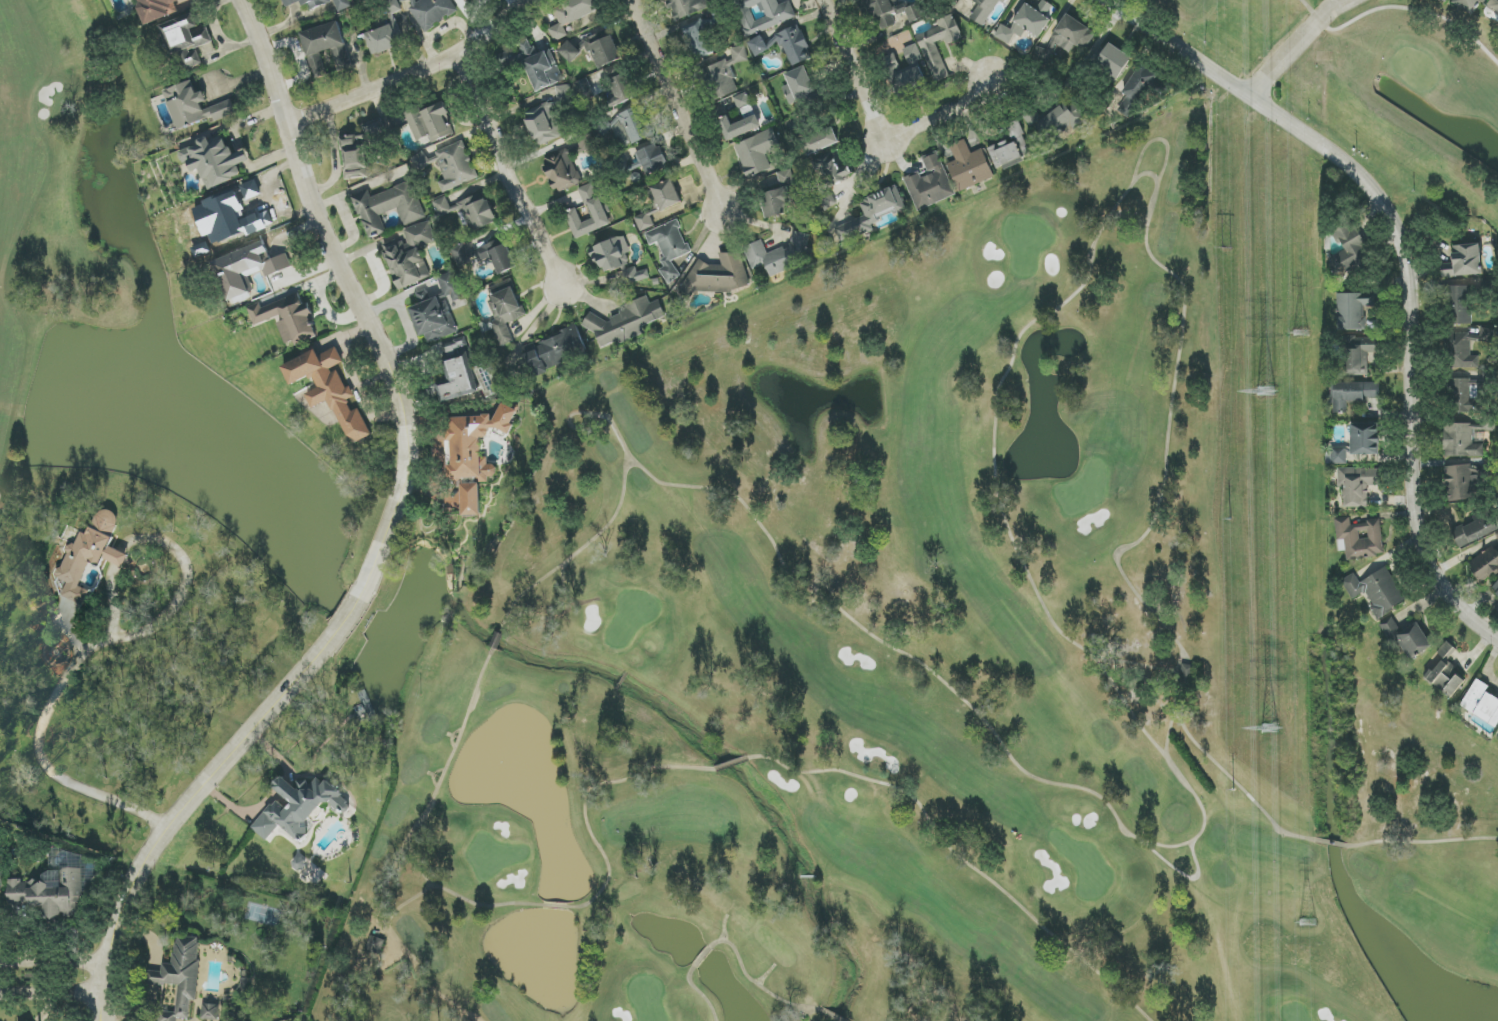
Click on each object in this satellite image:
building: (465, 0)
building: (1445, 1)
building: (320, 3)
building: (1467, 5)
building: (1492, 5)
building: (687, 7)
building: (158, 9)
building: (984, 10)
building: (431, 12)
building: (893, 12)
building: (764, 14)
building: (571, 15)
building: (1028, 22)
road: (221, 35)
building: (1067, 38)
building: (186, 39)
building: (384, 39)
building: (697, 40)
building: (759, 46)
building: (792, 46)
road: (1297, 47)
building: (325, 48)
building: (602, 49)
building: (570, 52)
building: (904, 58)
building: (934, 60)
building: (1113, 61)
building: (532, 64)
building: (725, 74)
road: (413, 76)
building: (909, 81)
building: (799, 85)
building: (585, 89)
building: (621, 90)
building: (1137, 90)
park: (1382, 93)
building: (564, 94)
road: (673, 104)
building: (744, 105)
building: (194, 106)
building: (1058, 119)
building: (429, 122)
building: (544, 124)
building: (738, 127)
building: (631, 128)
road: (880, 130)
road: (1156, 140)
building: (821, 141)
building: (1011, 148)
building: (757, 152)
road: (336, 158)
building: (652, 159)
building: (215, 162)
building: (455, 166)
building: (969, 166)
building: (832, 169)
building: (563, 171)
road: (506, 172)
building: (930, 183)
building: (667, 195)
building: (775, 203)
building: (388, 207)
building: (597, 210)
building: (469, 211)
building: (872, 213)
building: (646, 219)
building: (669, 247)
park: (61, 248)
power tower: (1228, 248)
building: (1350, 250)
building: (612, 254)
building: (409, 255)
building: (781, 255)
building: (486, 256)
building: (1464, 261)
road: (1406, 263)
building: (247, 268)
building: (635, 275)
building: (718, 276)
building: (450, 286)
road: (358, 297)
building: (1460, 305)
building: (505, 309)
building: (1355, 309)
building: (287, 319)
building: (433, 320)
building: (625, 322)
building: (1487, 335)
power tower: (1299, 338)
building: (456, 345)
building: (555, 351)
building: (1463, 351)
building: (1358, 355)
building: (458, 378)
building: (330, 389)
power tower: (1265, 393)
building: (1467, 393)
building: (1354, 394)
building: (1463, 439)
building: (476, 443)
building: (1357, 444)
building: (1466, 481)
building: (1358, 485)
building: (471, 499)
road: (619, 507)
power tower: (1230, 519)
building: (1470, 527)
building: (1497, 535)
building: (1359, 538)
road: (1015, 546)
building: (89, 555)
building: (1485, 564)
building: (1376, 591)
building: (1495, 591)
road: (350, 613)
road: (558, 617)
building: (1407, 638)
road: (109, 642)
building: (1447, 672)
park: (901, 675)
building: (1482, 703)
power tower: (1269, 728)
road: (1237, 784)
power tower: (1234, 790)
road: (193, 795)
building: (299, 807)
road: (1422, 842)
road: (961, 858)
building: (49, 896)
road: (405, 904)
road: (507, 904)
power tower: (1302, 924)
road: (393, 940)
building: (375, 945)
road: (51, 964)
building: (181, 976)
road: (358, 976)
road: (757, 984)
road: (700, 993)
road: (51, 996)
road: (99, 1008)
road: (104, 1008)
building: (211, 1012)
road: (831, 1015)

